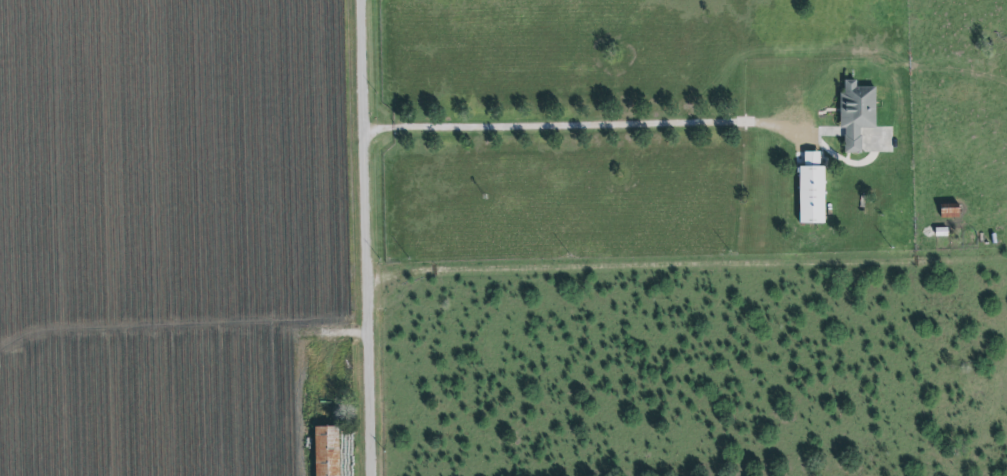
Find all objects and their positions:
building: (856, 114)
road: (573, 125)
building: (811, 191)
road: (371, 238)
road: (329, 340)
building: (327, 451)

